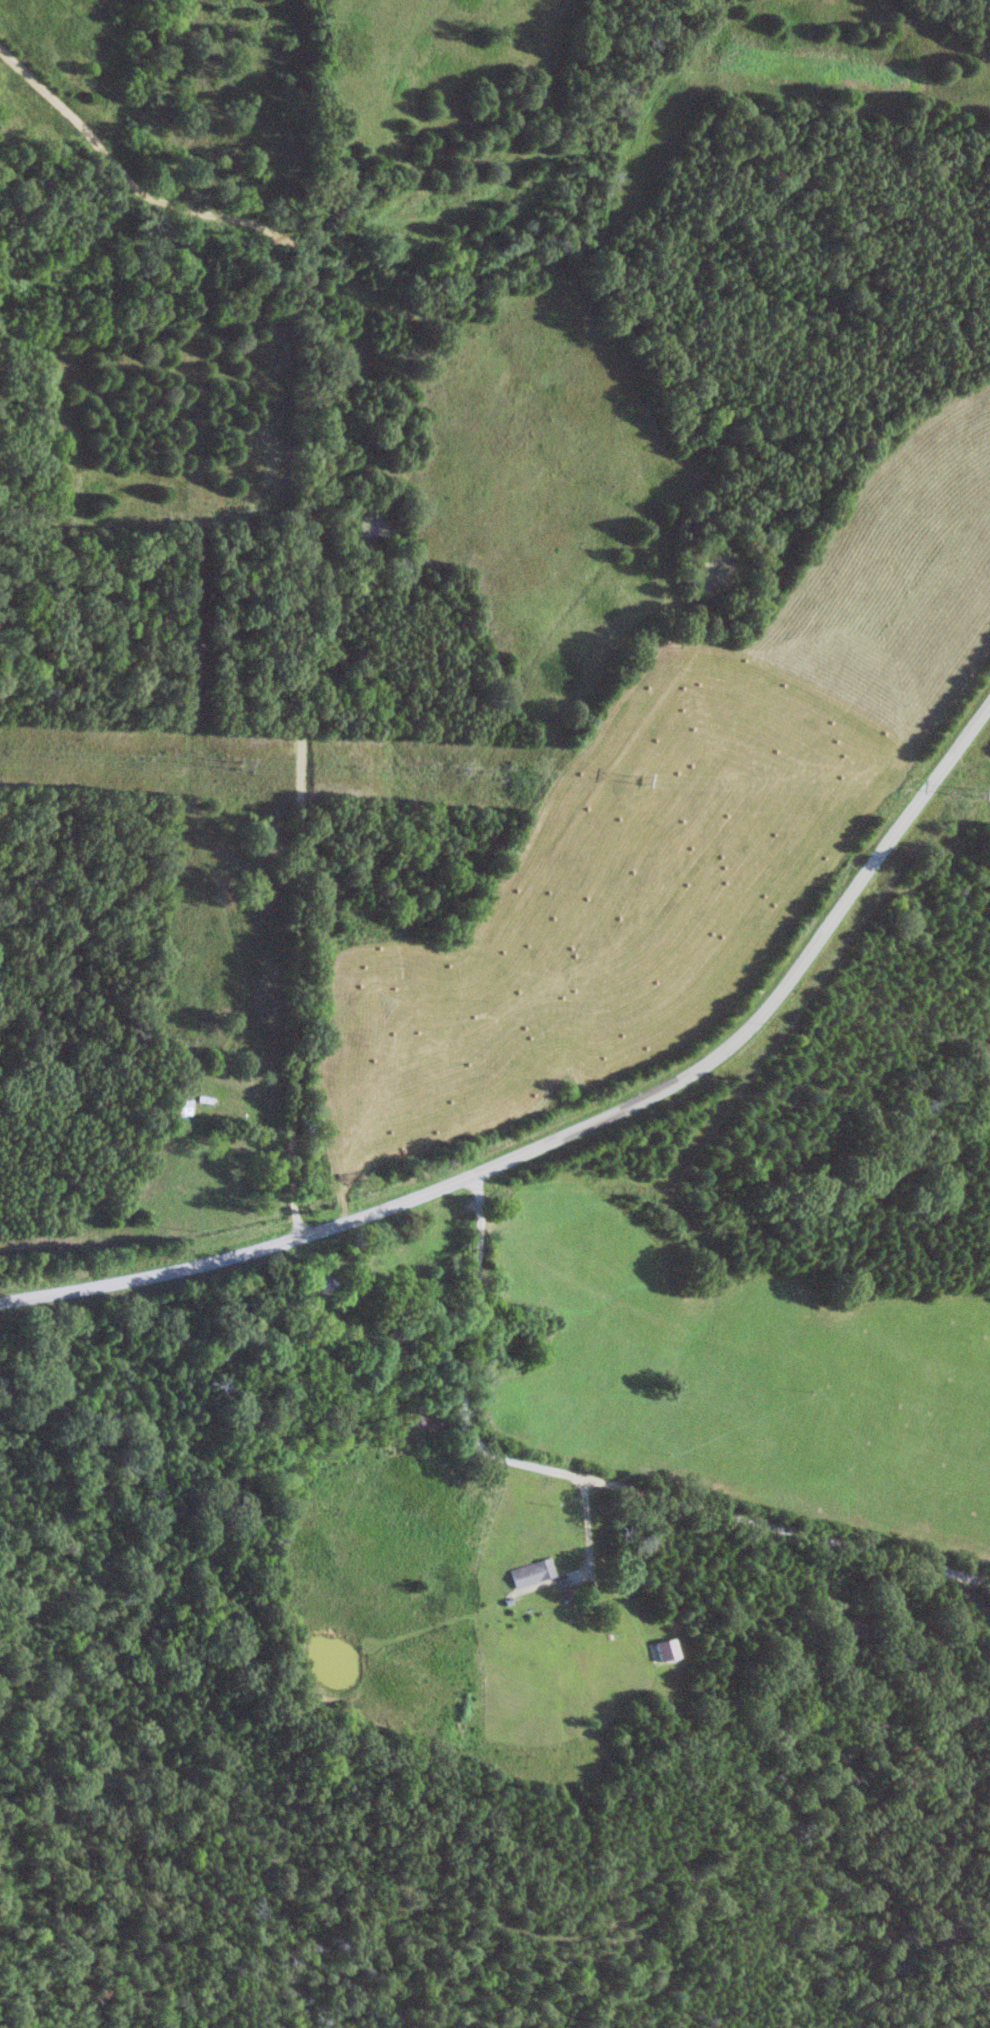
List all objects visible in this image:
road: (579, 1128)
road: (574, 1497)
building: (531, 1573)
building: (664, 1650)

